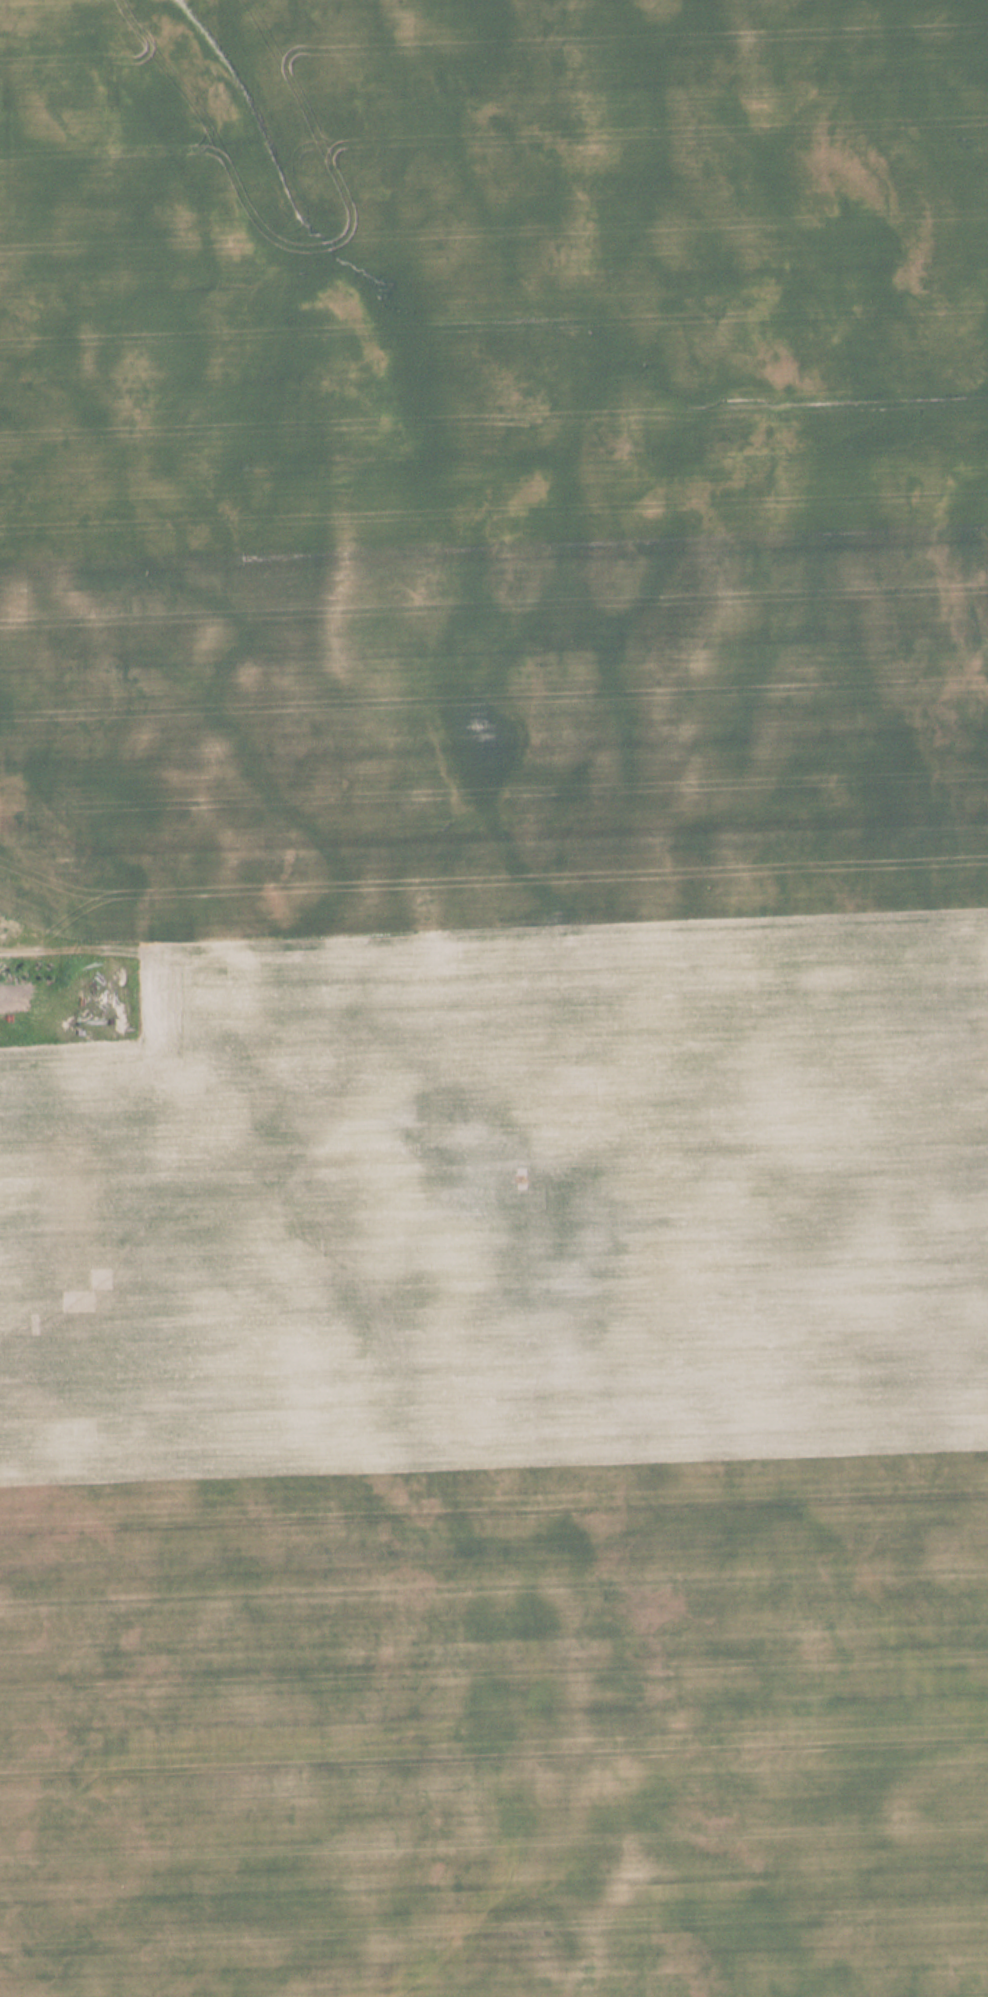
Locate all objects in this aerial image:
building: (7, 929)

